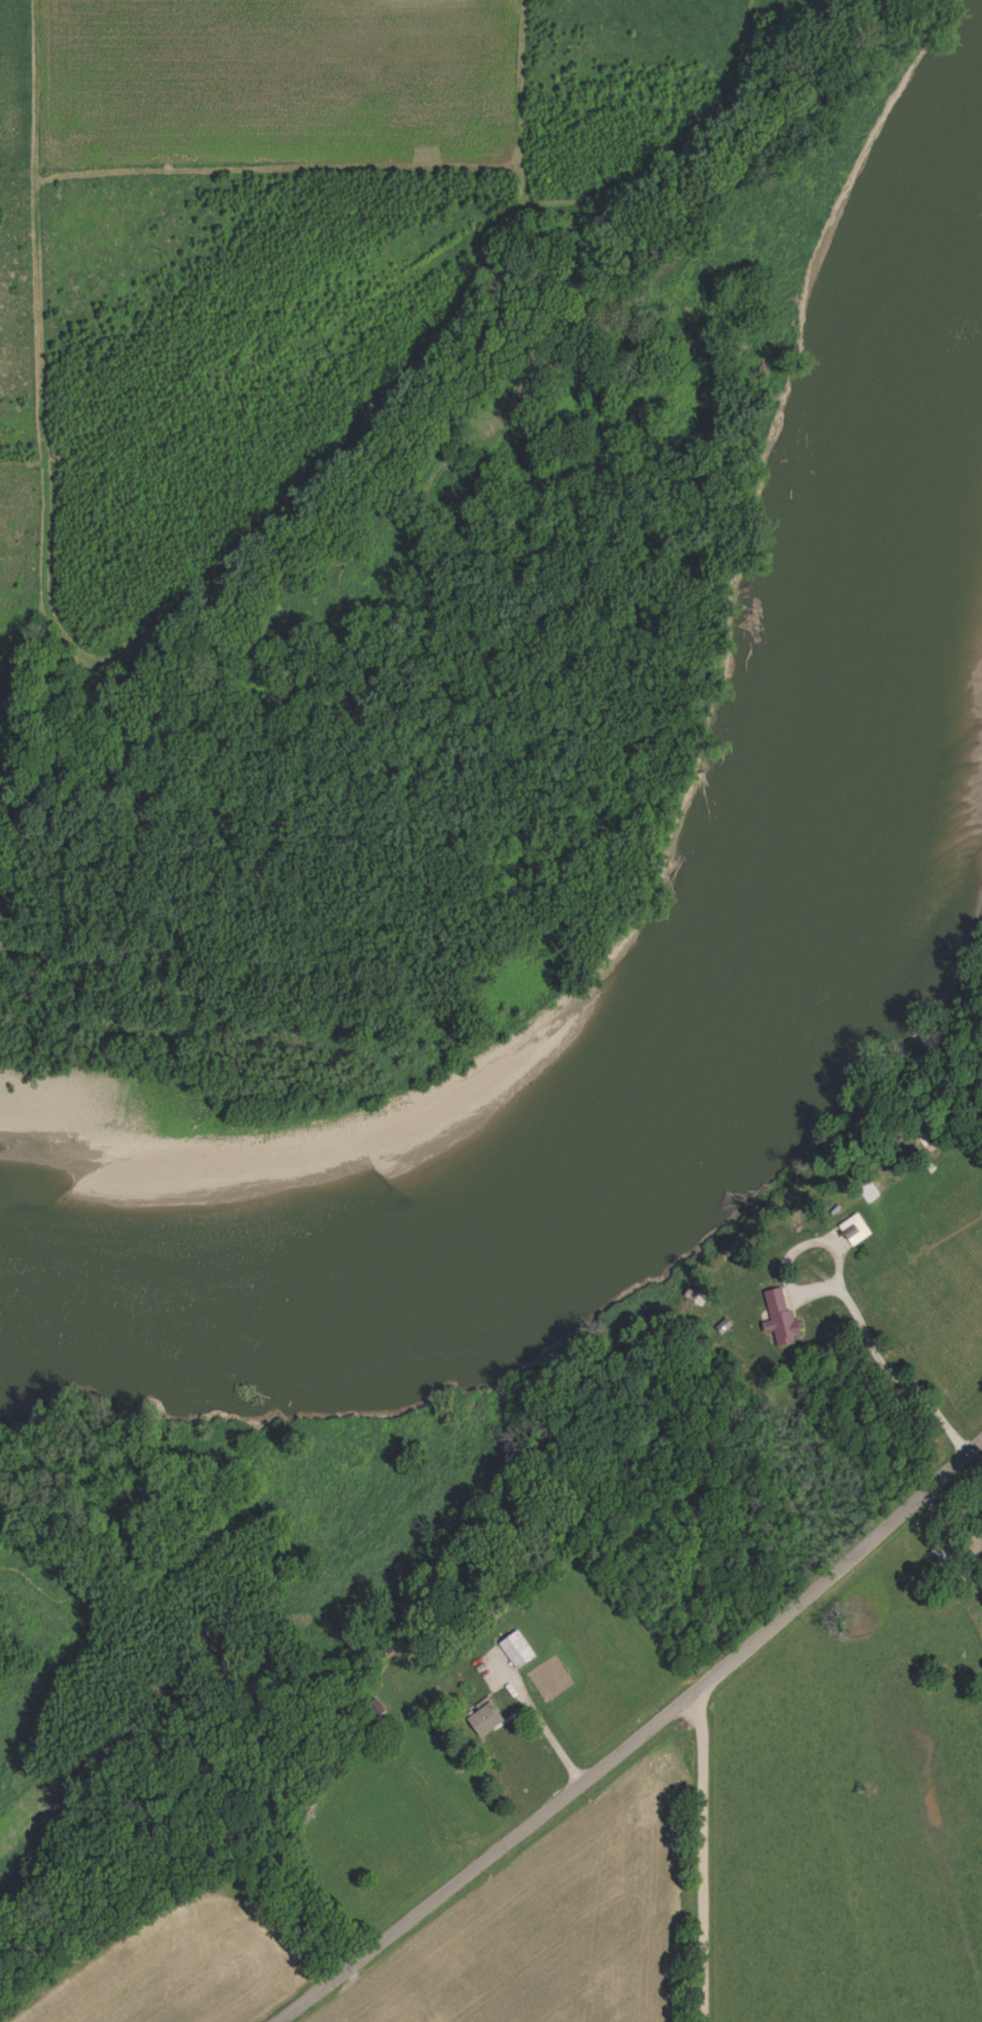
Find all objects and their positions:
river: (591, 1107)
building: (855, 1231)
road: (839, 1292)
building: (780, 1318)
building: (724, 1328)
building: (517, 1651)
building: (374, 1709)
building: (485, 1721)
road: (635, 1725)
road: (694, 1863)

